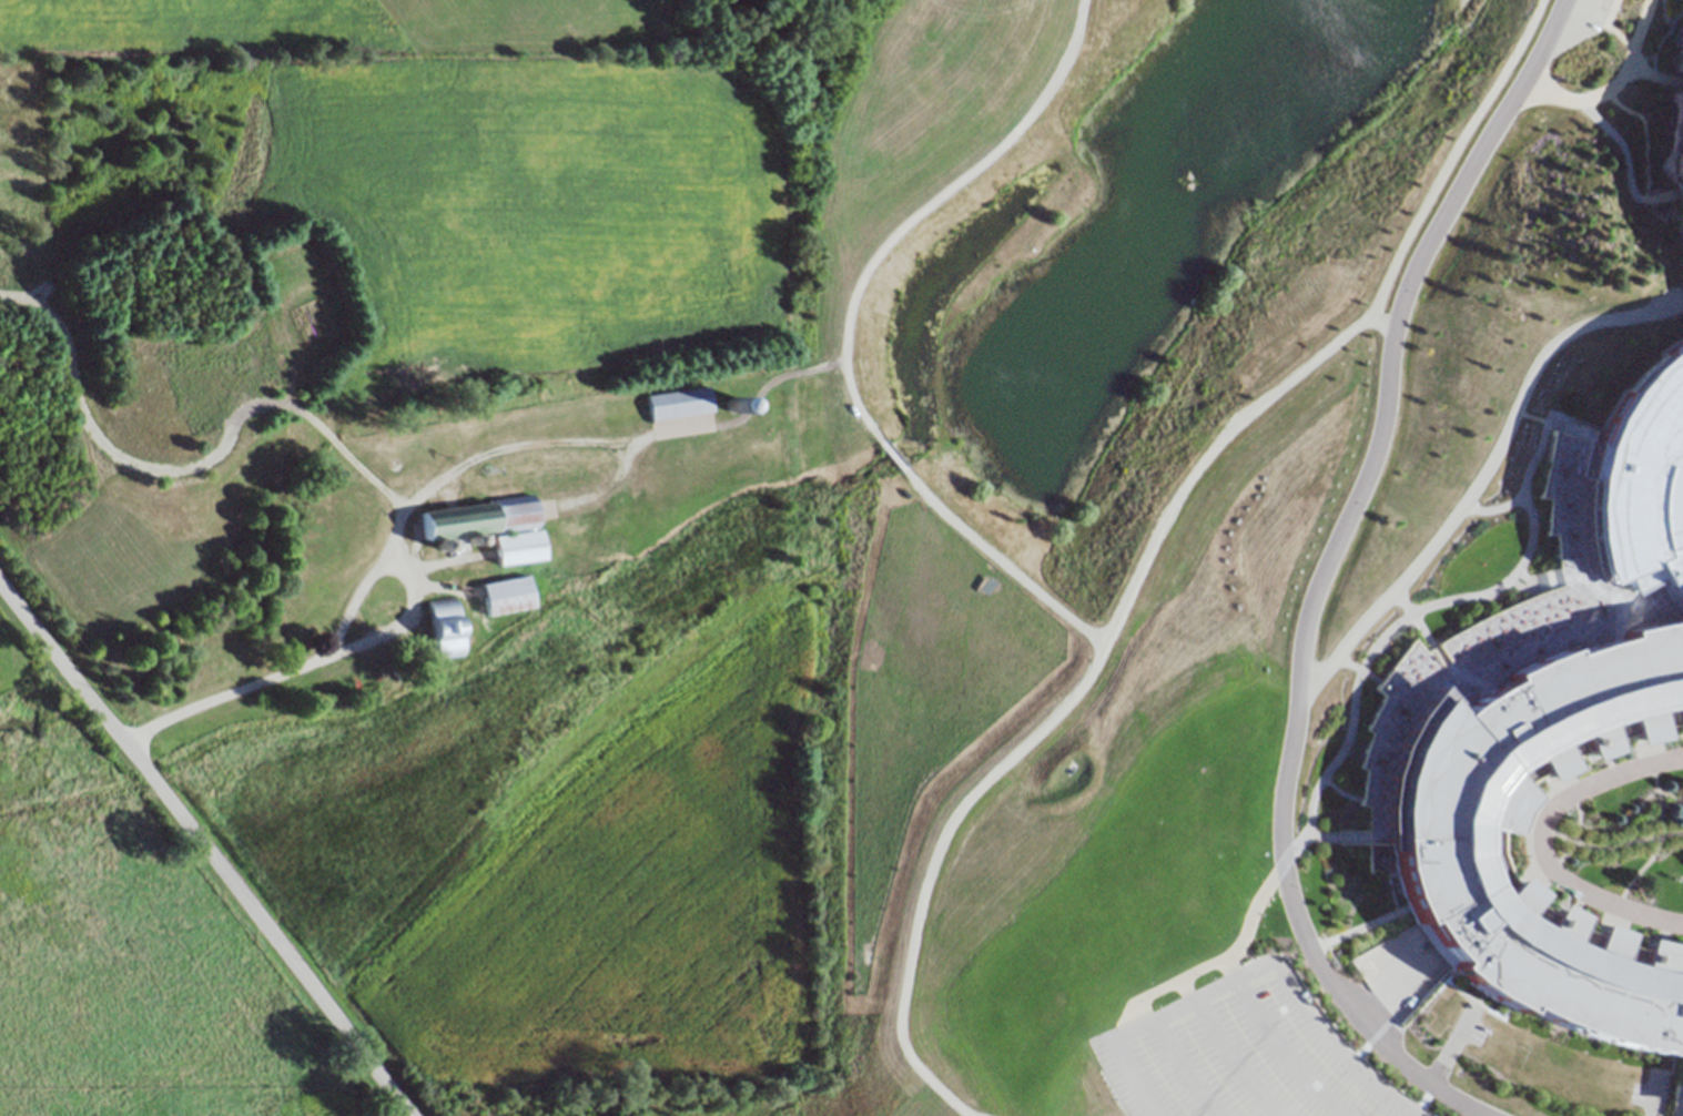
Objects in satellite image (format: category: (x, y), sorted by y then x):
road: (1460, 0)
road: (1611, 12)
parking lot: (1579, 21)
road: (1618, 34)
road: (1651, 75)
road: (1608, 89)
road: (1621, 144)
road: (1649, 146)
building: (1676, 158)
road: (926, 205)
building: (1666, 214)
park: (304, 302)
building: (272, 336)
building: (204, 384)
building: (731, 404)
building: (677, 408)
road: (92, 438)
road: (886, 449)
road: (1471, 459)
road: (343, 460)
building: (1631, 469)
building: (504, 513)
building: (448, 523)
road: (1143, 542)
building: (511, 552)
stadium: (511, 552)
road: (995, 558)
road: (1305, 571)
road: (376, 577)
building: (1369, 581)
building: (499, 600)
road: (397, 631)
building: (442, 636)
building: (332, 683)
building: (1443, 770)
road: (1612, 826)
road: (1540, 841)
road: (1656, 843)
road: (1612, 846)
road: (204, 853)
park: (1117, 892)
building: (1358, 961)
road: (1377, 970)
road: (1184, 996)
road: (1328, 1047)
parking lot: (1234, 1053)
road: (1274, 1053)
road: (1220, 1057)
road: (1173, 1067)
road: (1123, 1077)

